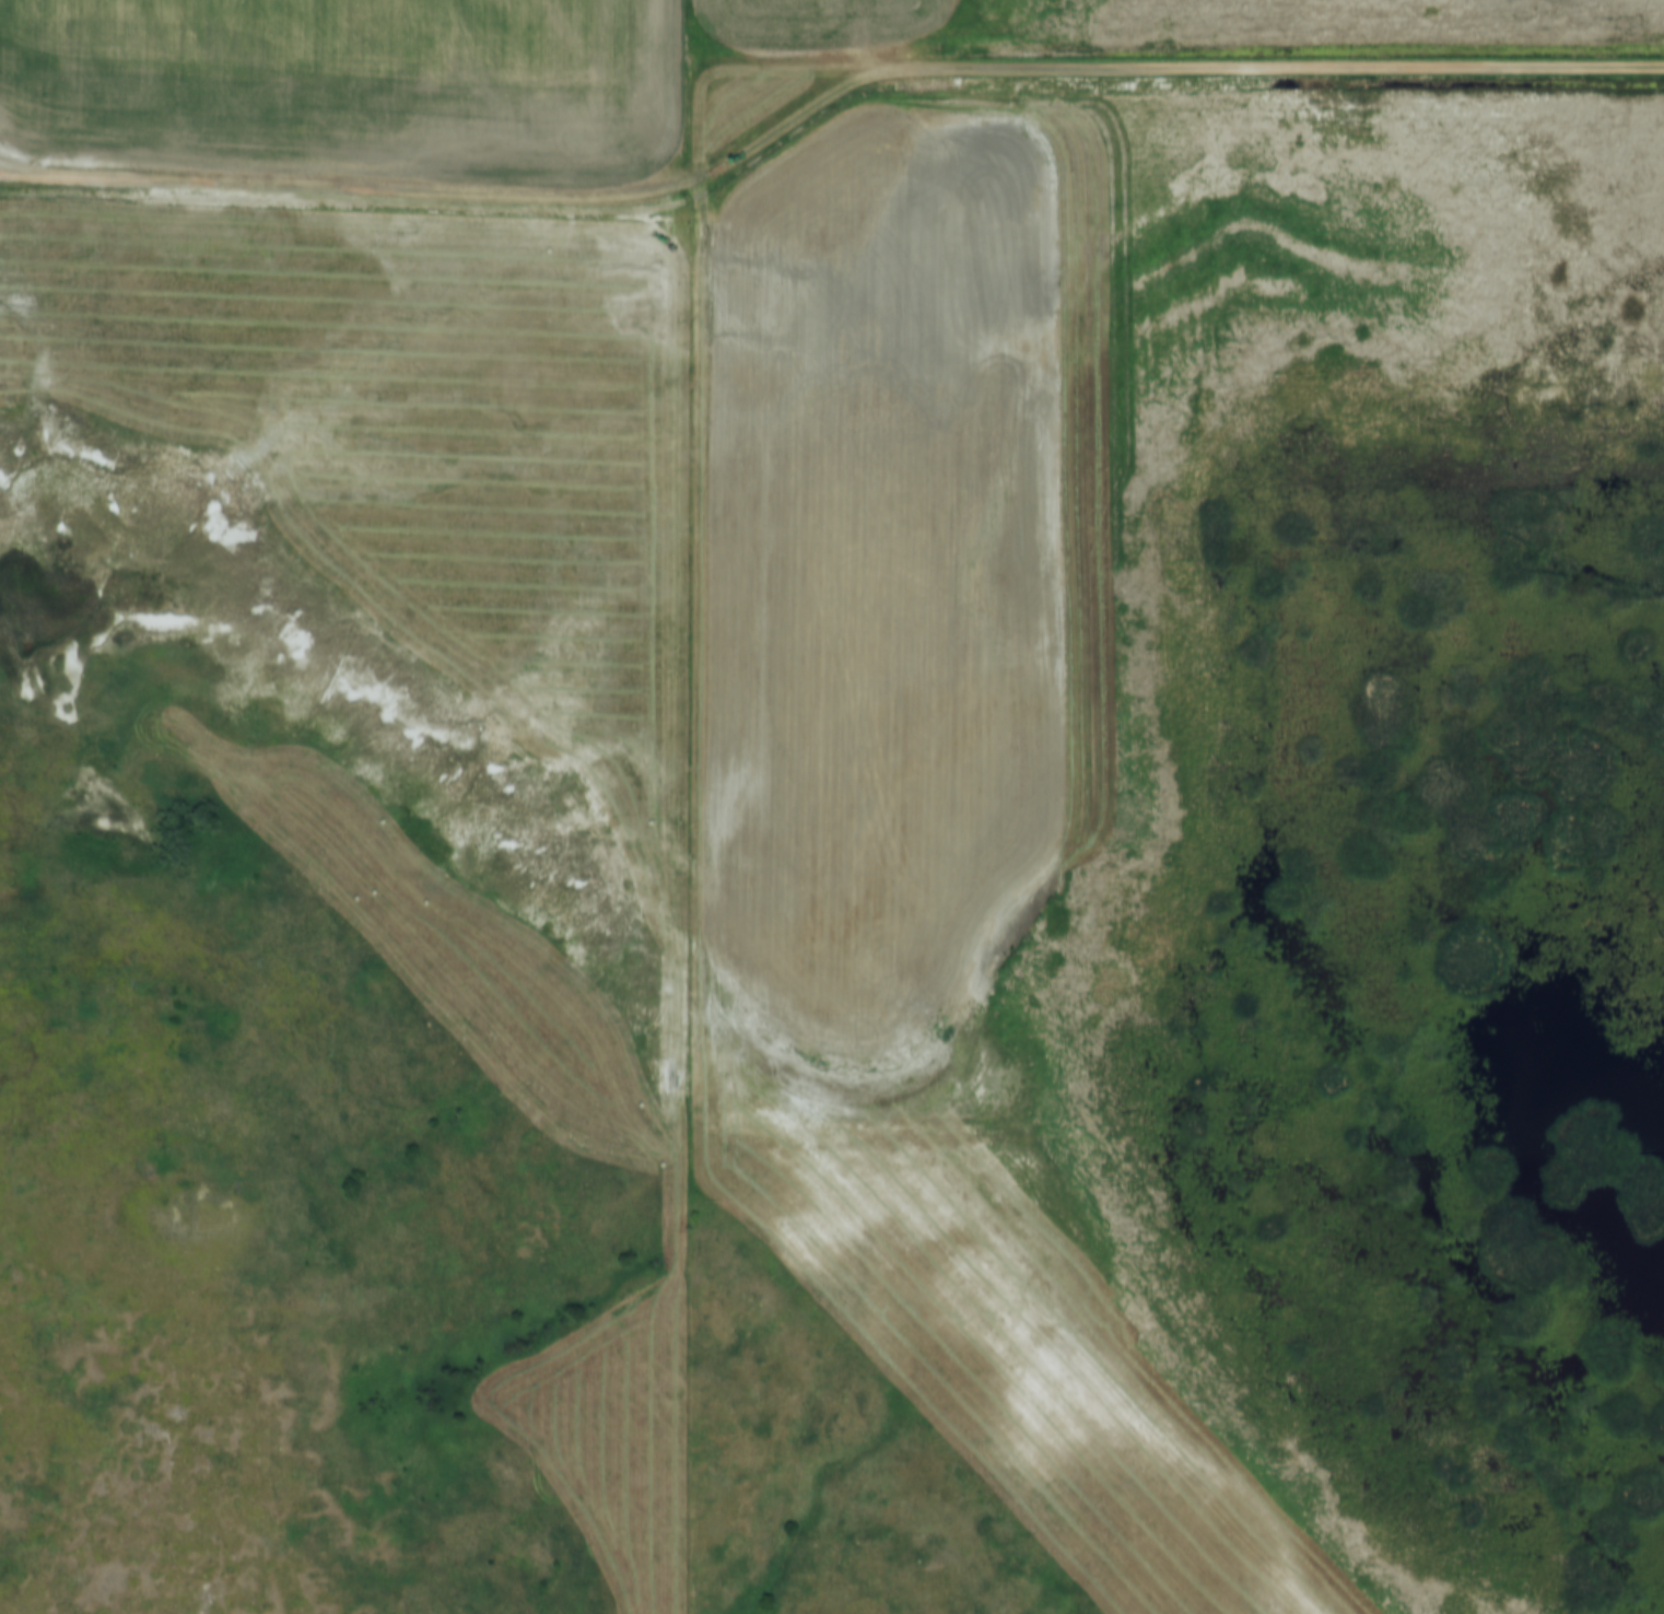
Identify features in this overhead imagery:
road: (823, 100)

